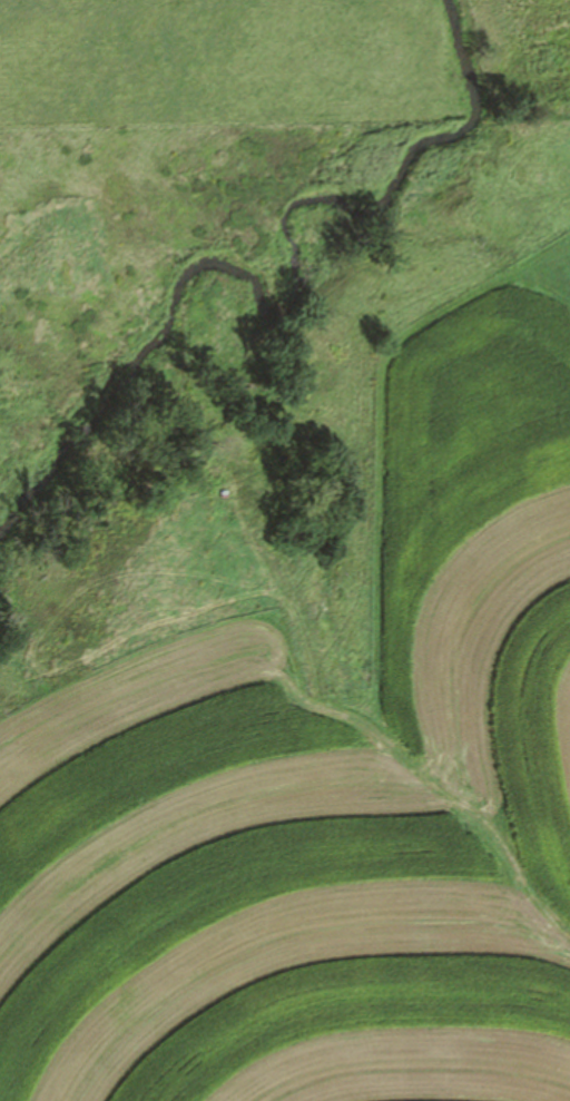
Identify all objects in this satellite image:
river: (285, 307)

